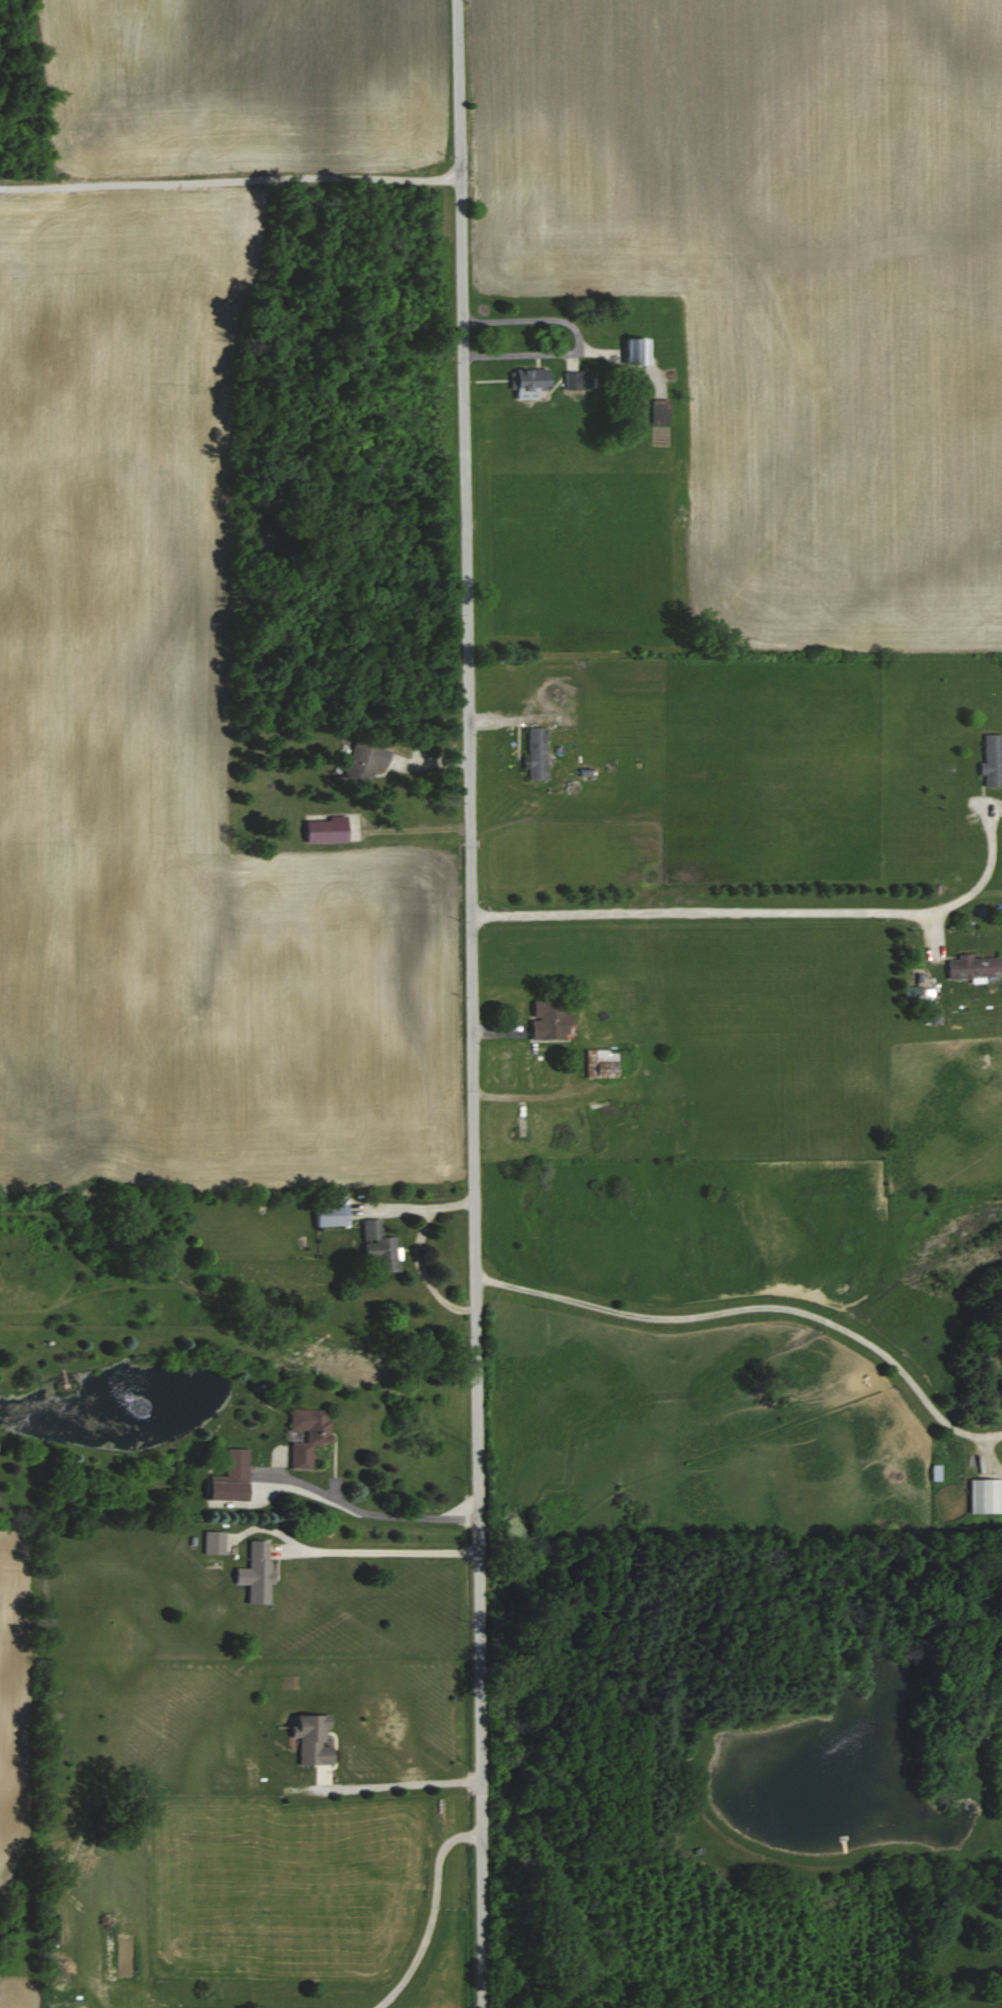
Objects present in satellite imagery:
road: (230, 182)
building: (632, 349)
building: (575, 379)
building: (526, 381)
building: (658, 411)
building: (534, 753)
building: (990, 760)
building: (361, 761)
building: (322, 828)
road: (767, 910)
building: (969, 966)
road: (472, 1003)
building: (547, 1020)
building: (596, 1063)
building: (327, 1210)
building: (375, 1246)
road: (755, 1294)
building: (304, 1435)
building: (233, 1467)
building: (984, 1496)
road: (381, 1510)
building: (211, 1543)
road: (382, 1548)
building: (252, 1574)
building: (308, 1739)
road: (402, 1781)
road: (437, 1917)

